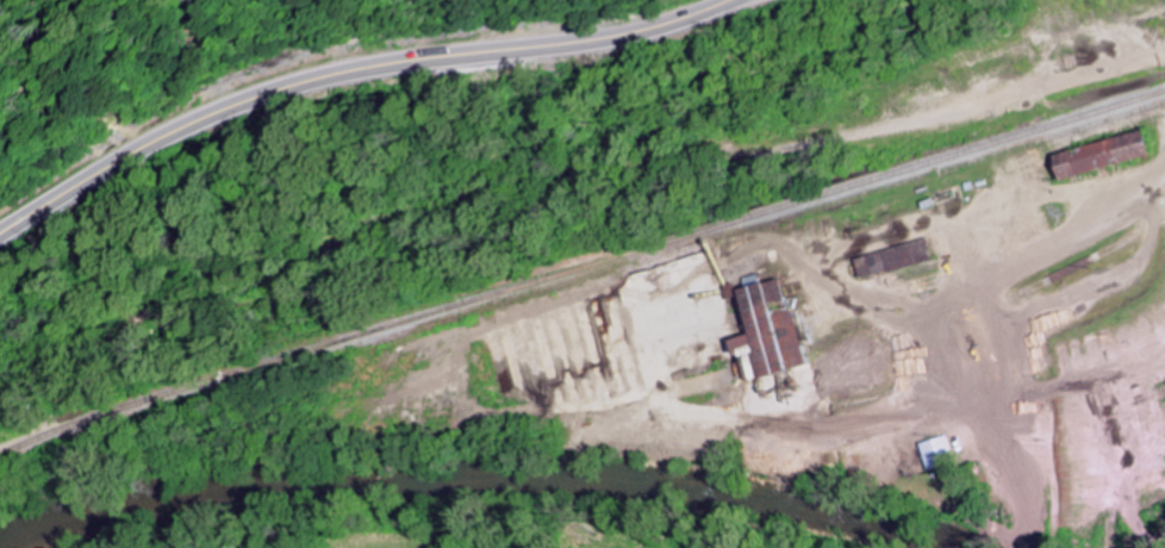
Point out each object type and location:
road: (353, 74)
building: (1094, 156)
road: (689, 182)
road: (1048, 262)
railway: (580, 264)
building: (765, 334)
building: (936, 453)
river: (469, 484)

